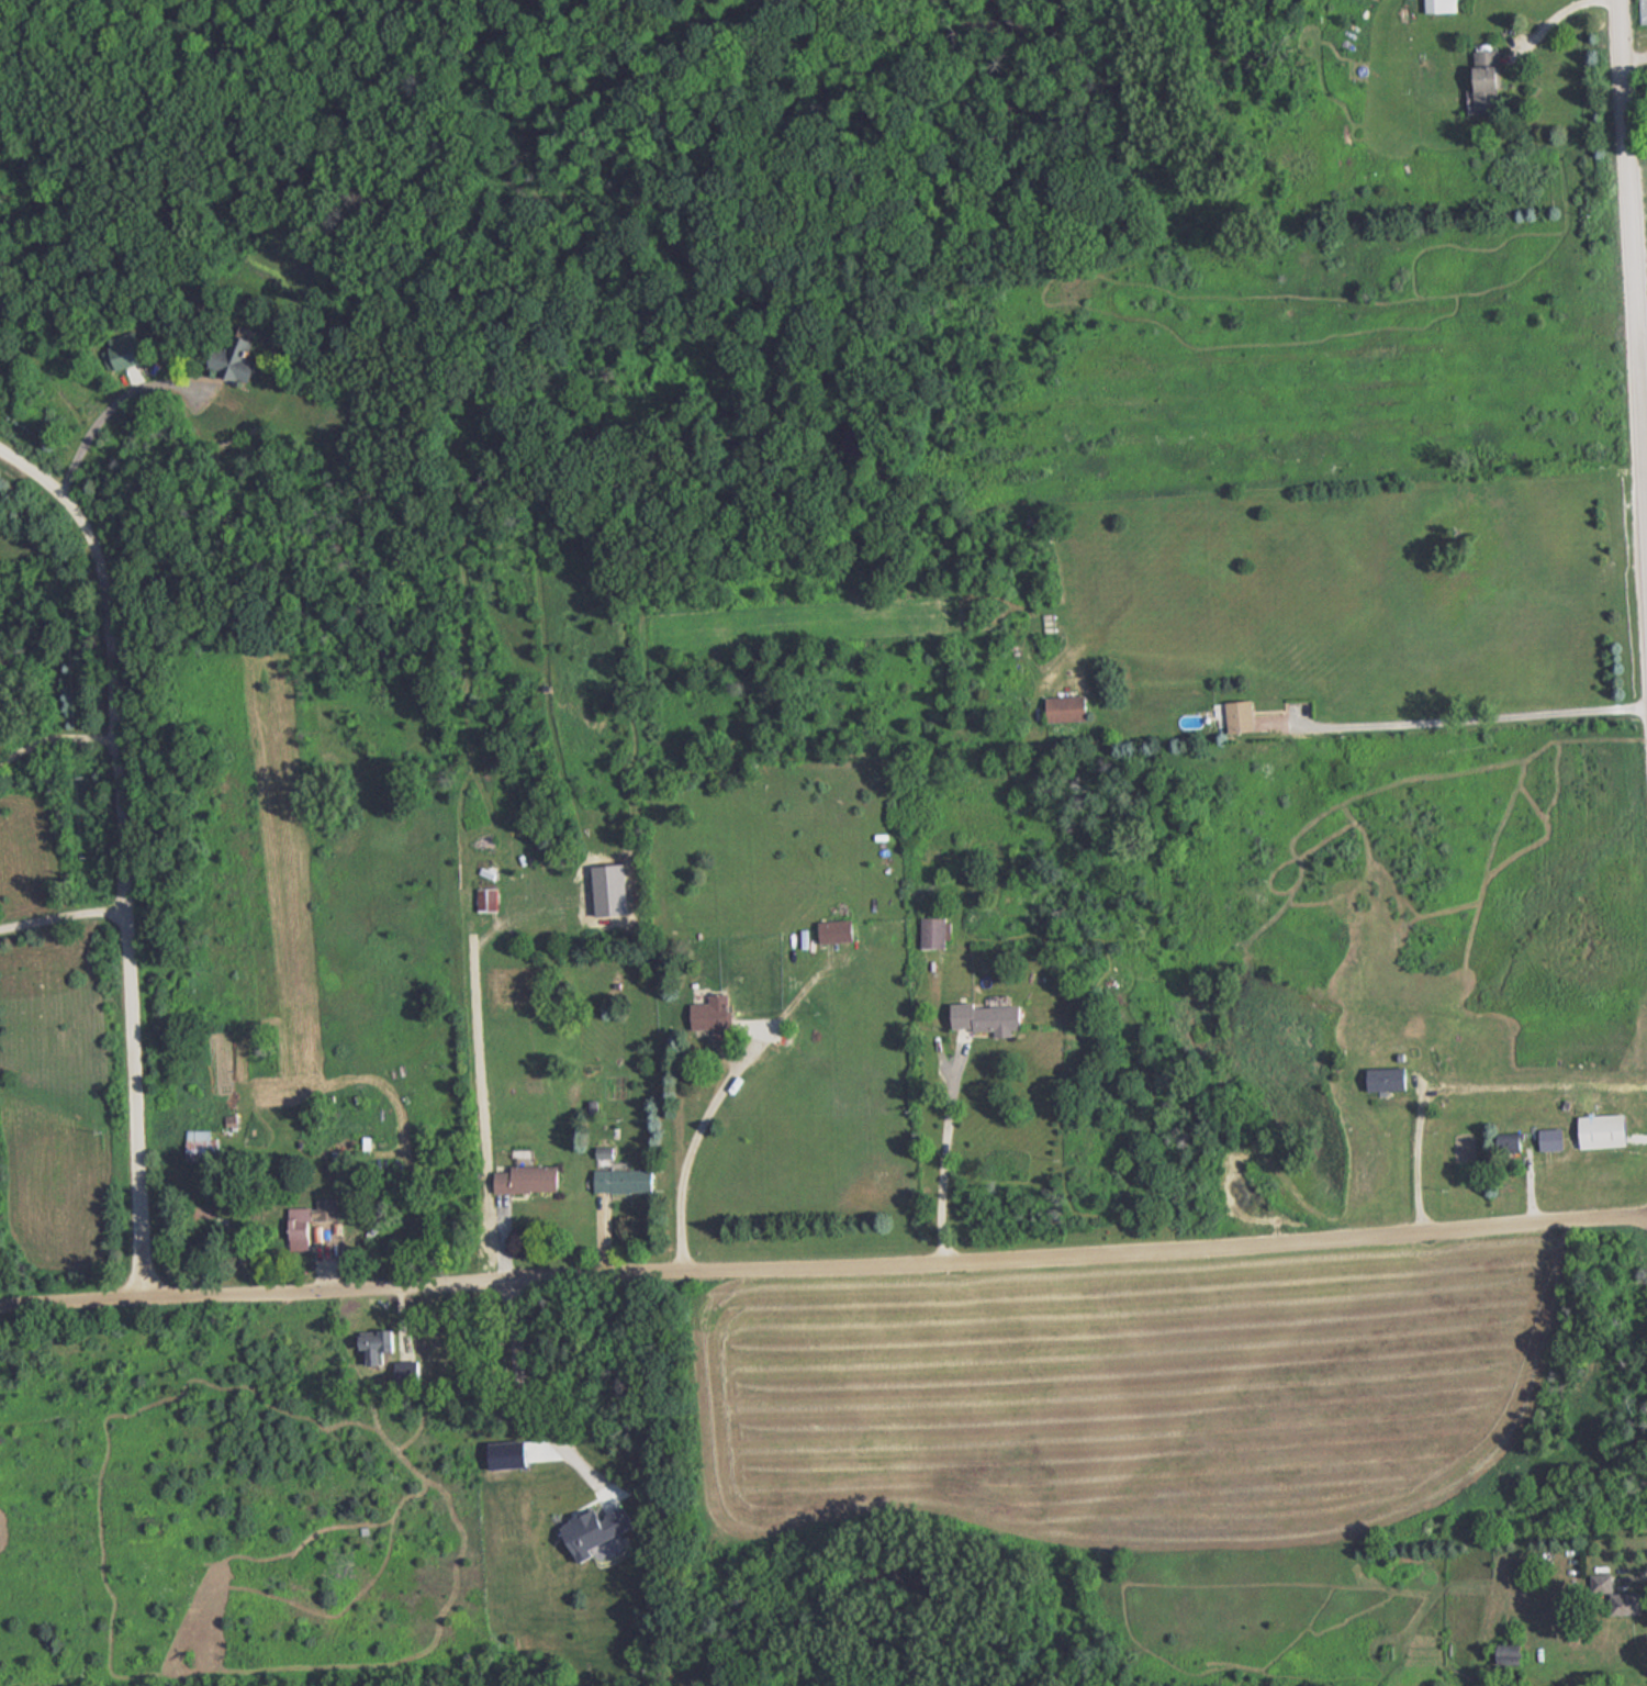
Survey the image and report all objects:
building: (1646, 11)
road: (1545, 25)
building: (1489, 80)
road: (1635, 237)
building: (131, 354)
building: (236, 358)
road: (111, 407)
building: (1067, 707)
building: (1243, 715)
road: (1432, 718)
road: (55, 738)
road: (122, 853)
road: (63, 915)
building: (838, 930)
building: (933, 930)
building: (713, 1015)
building: (990, 1017)
building: (1388, 1079)
road: (1472, 1091)
building: (1605, 1130)
building: (1553, 1139)
building: (1514, 1141)
road: (692, 1143)
building: (202, 1150)
road: (943, 1150)
building: (527, 1177)
building: (625, 1180)
building: (312, 1216)
road: (824, 1259)
building: (378, 1346)
road: (519, 1372)
building: (1629, 1603)

